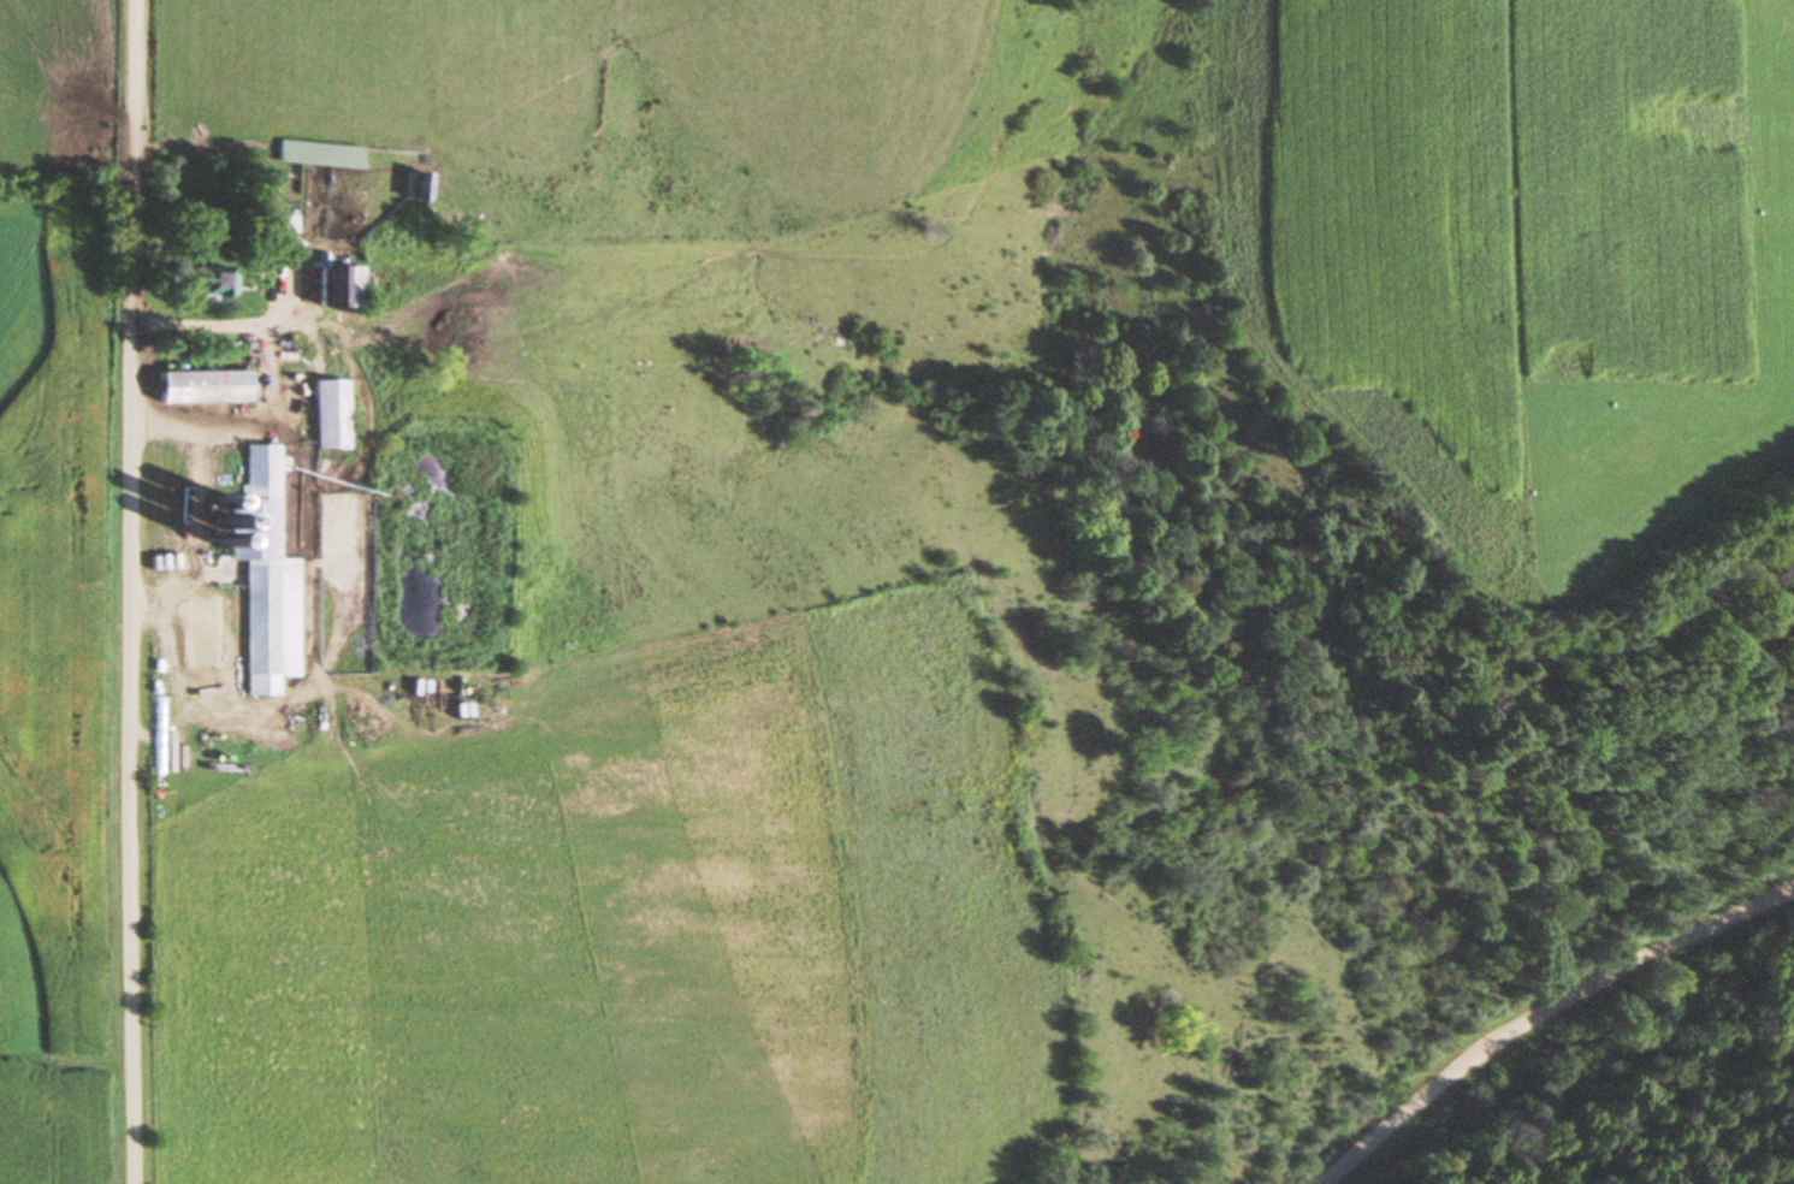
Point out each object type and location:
building: (309, 154)
building: (413, 189)
building: (217, 282)
building: (337, 288)
road: (196, 327)
building: (201, 387)
road: (267, 409)
building: (327, 415)
building: (264, 576)
road: (130, 591)
building: (249, 775)
road: (1543, 1007)

